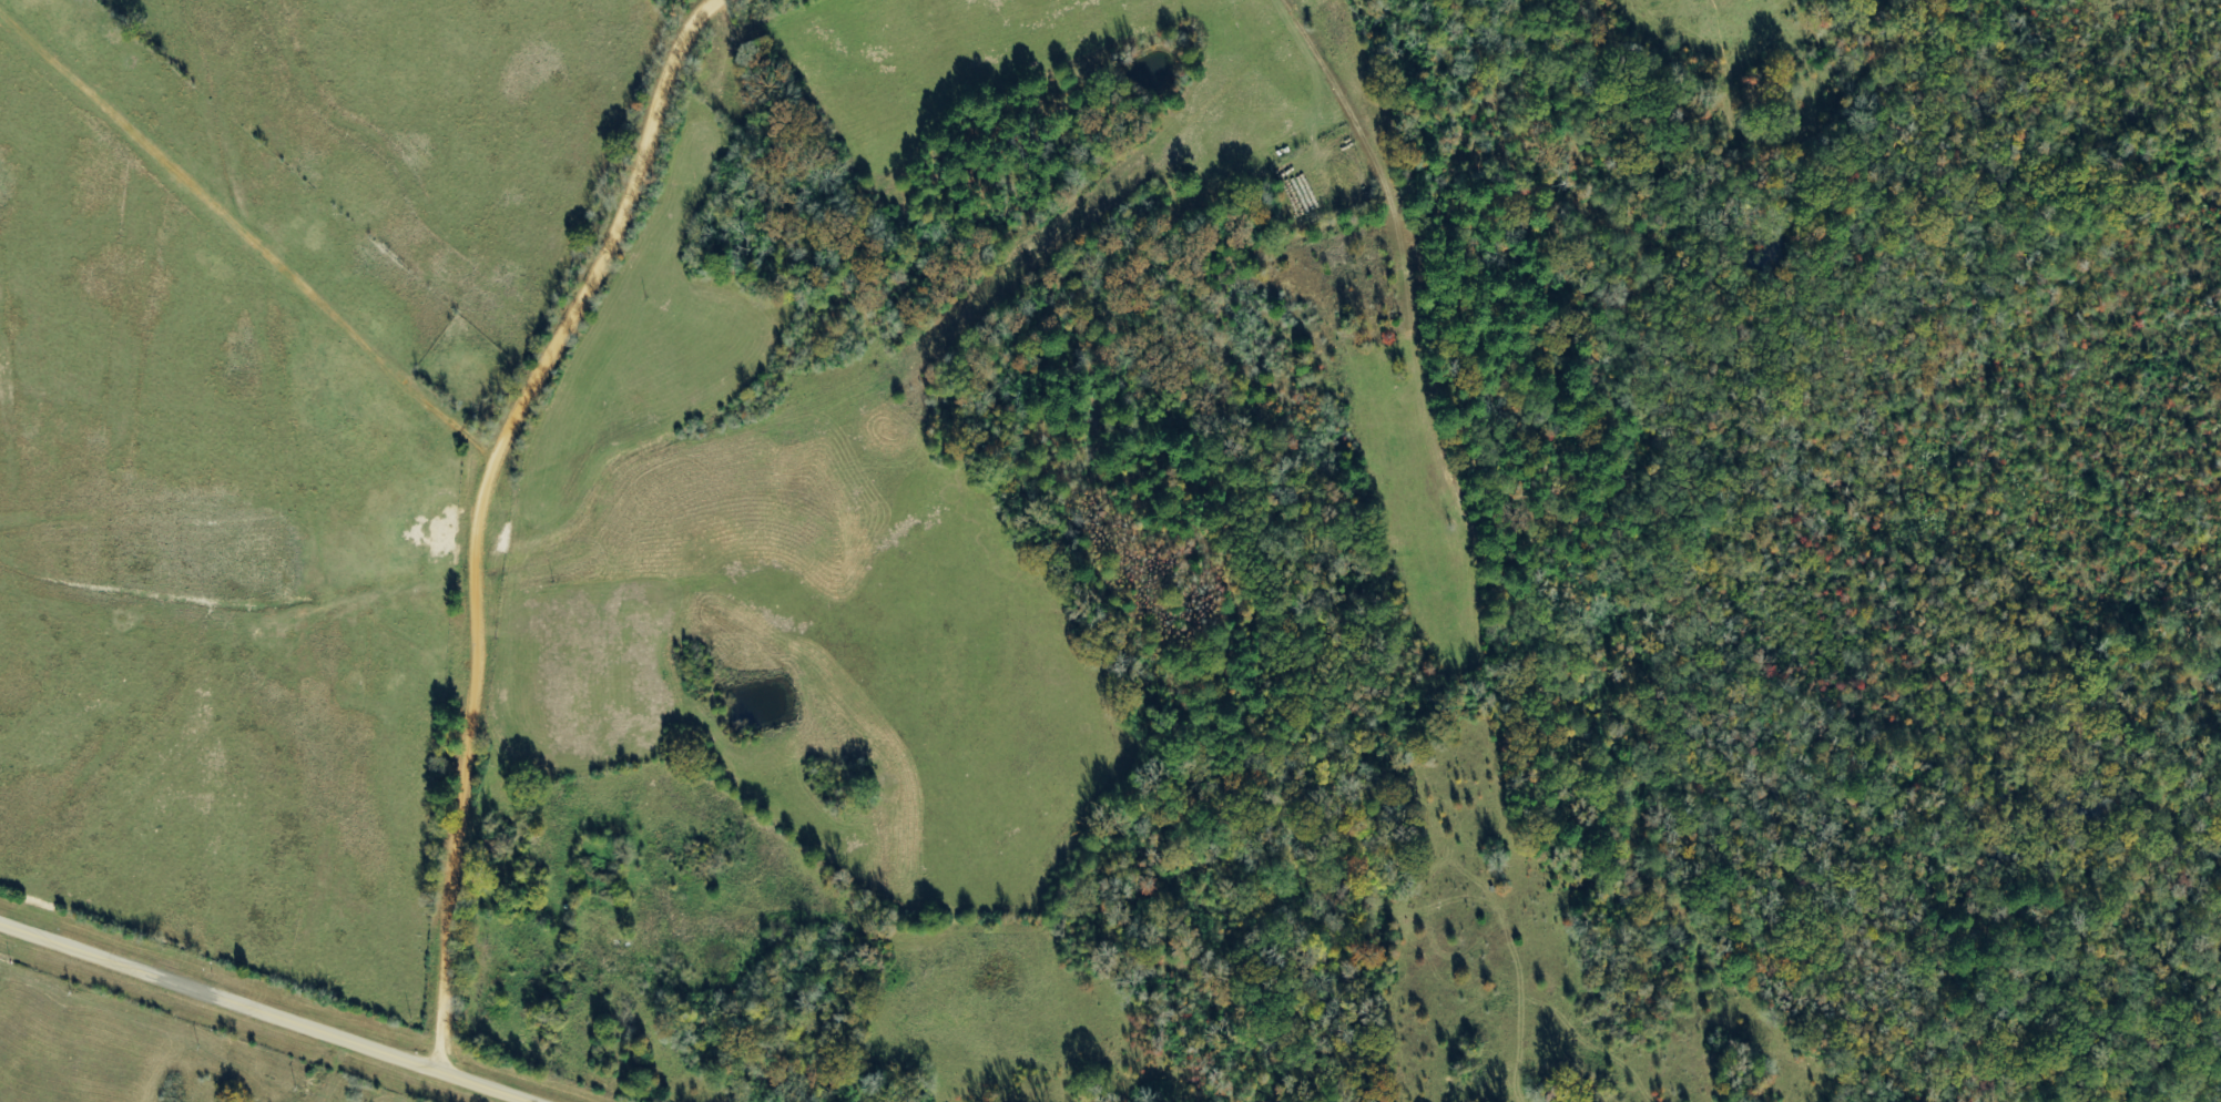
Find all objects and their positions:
road: (462, 473)
road: (264, 1017)

